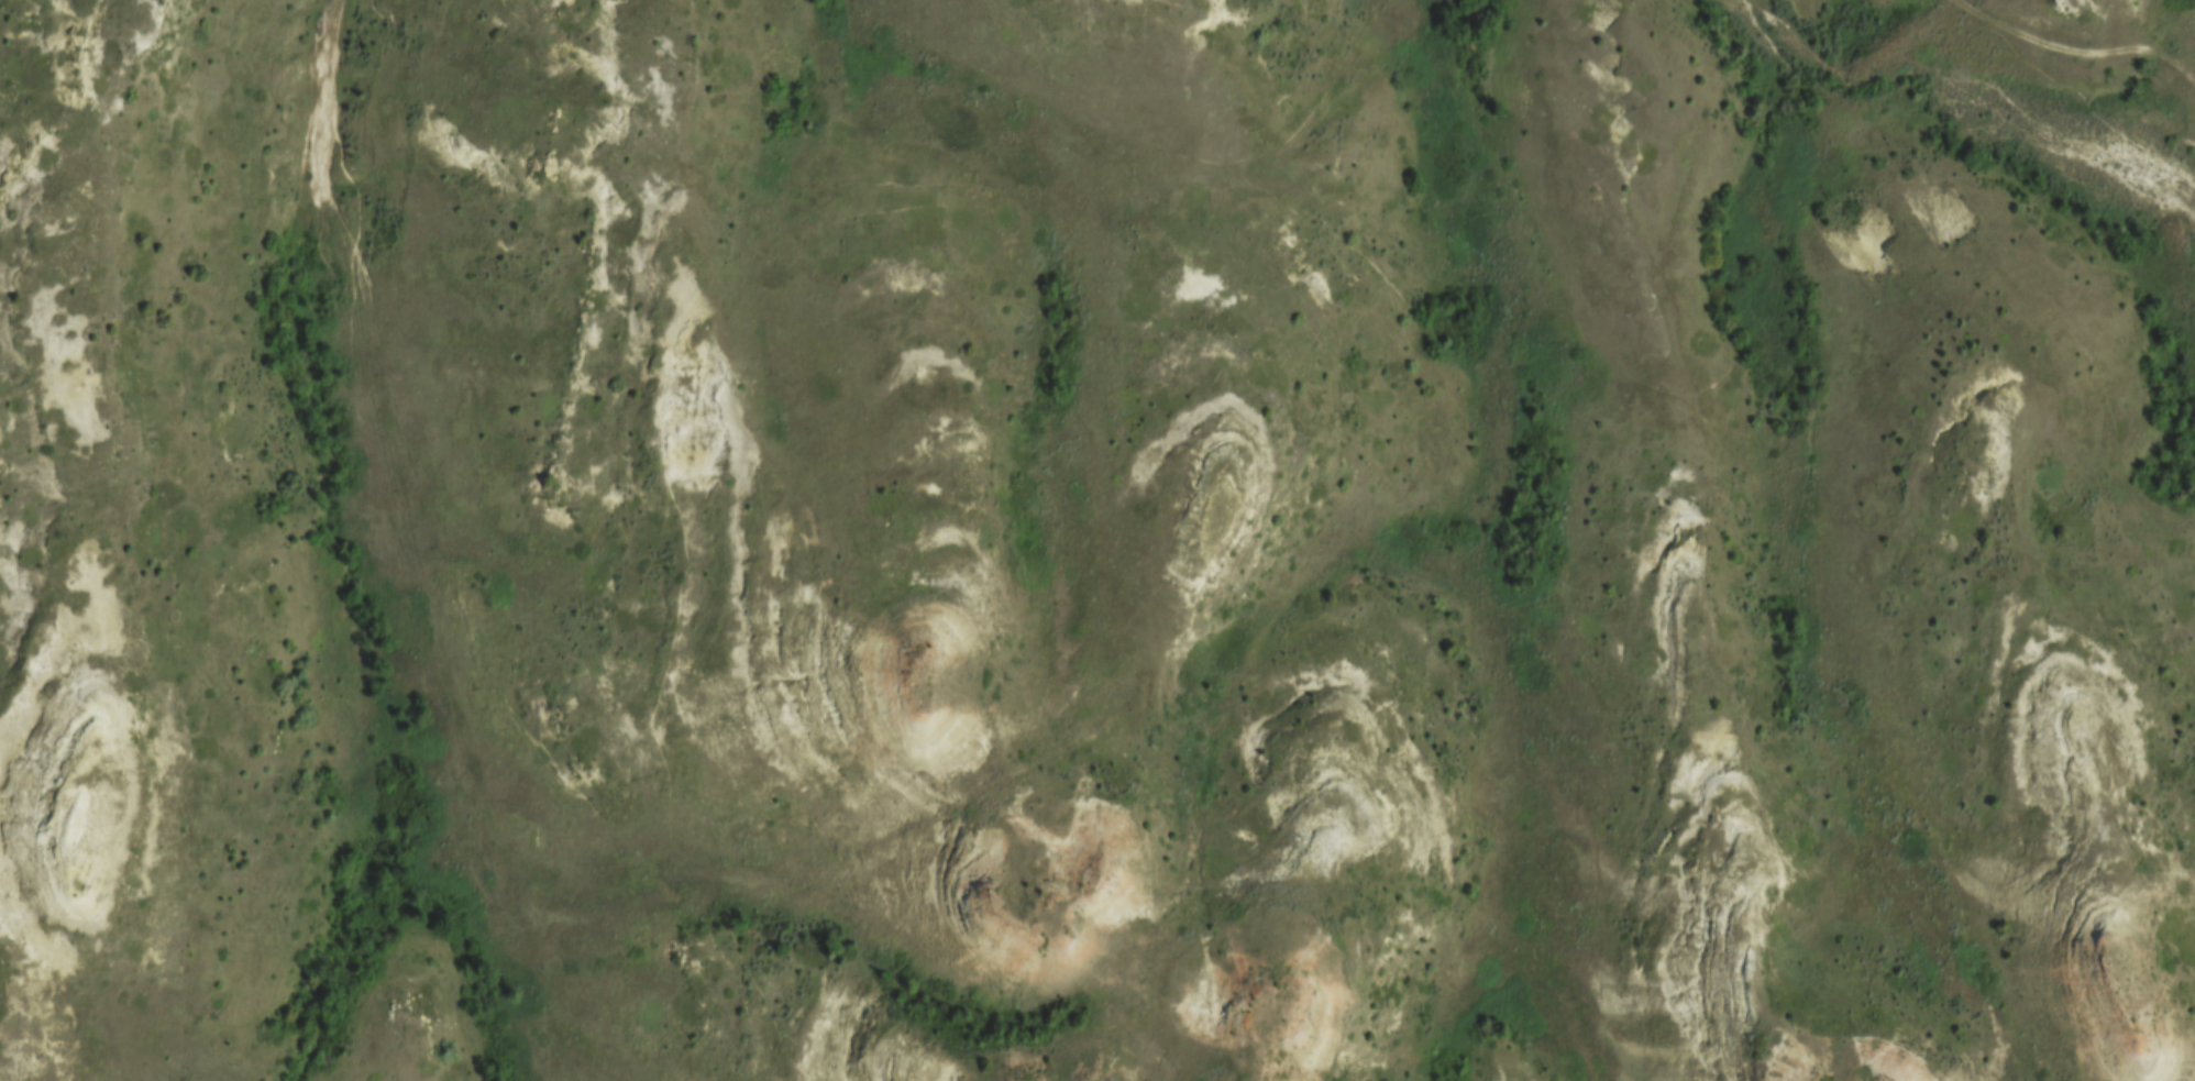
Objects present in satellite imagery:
road: (2074, 49)

